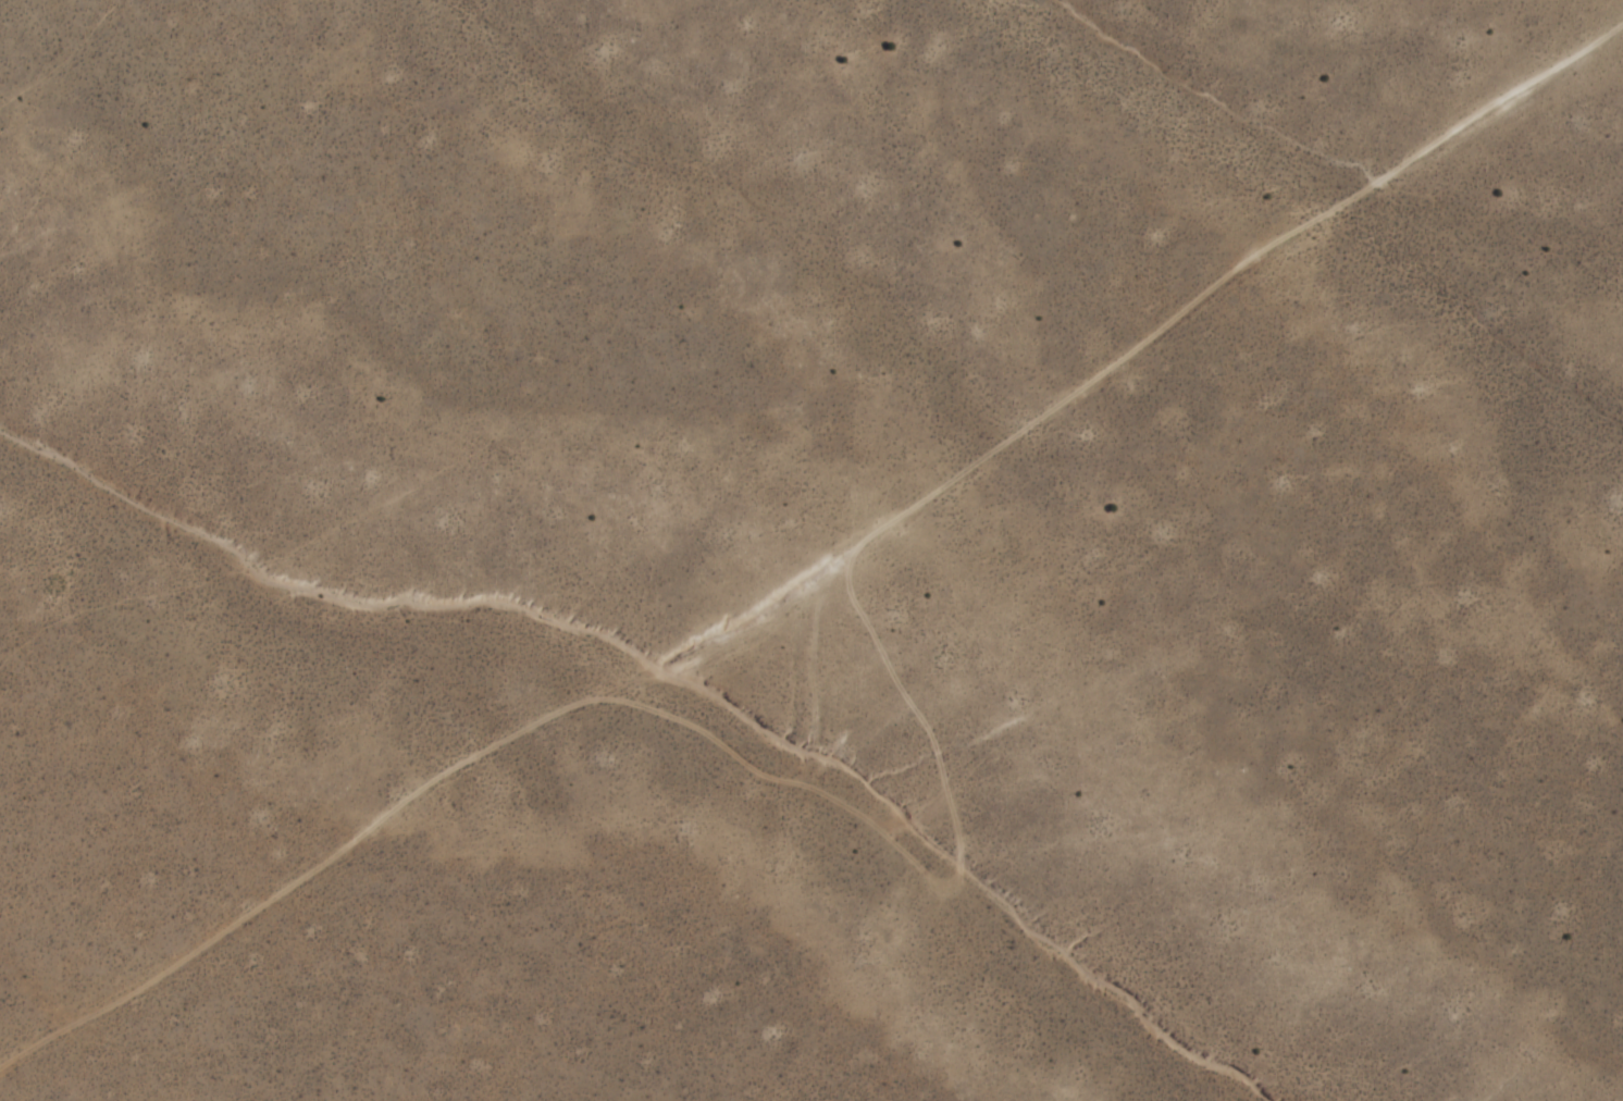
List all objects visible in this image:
road: (936, 738)

